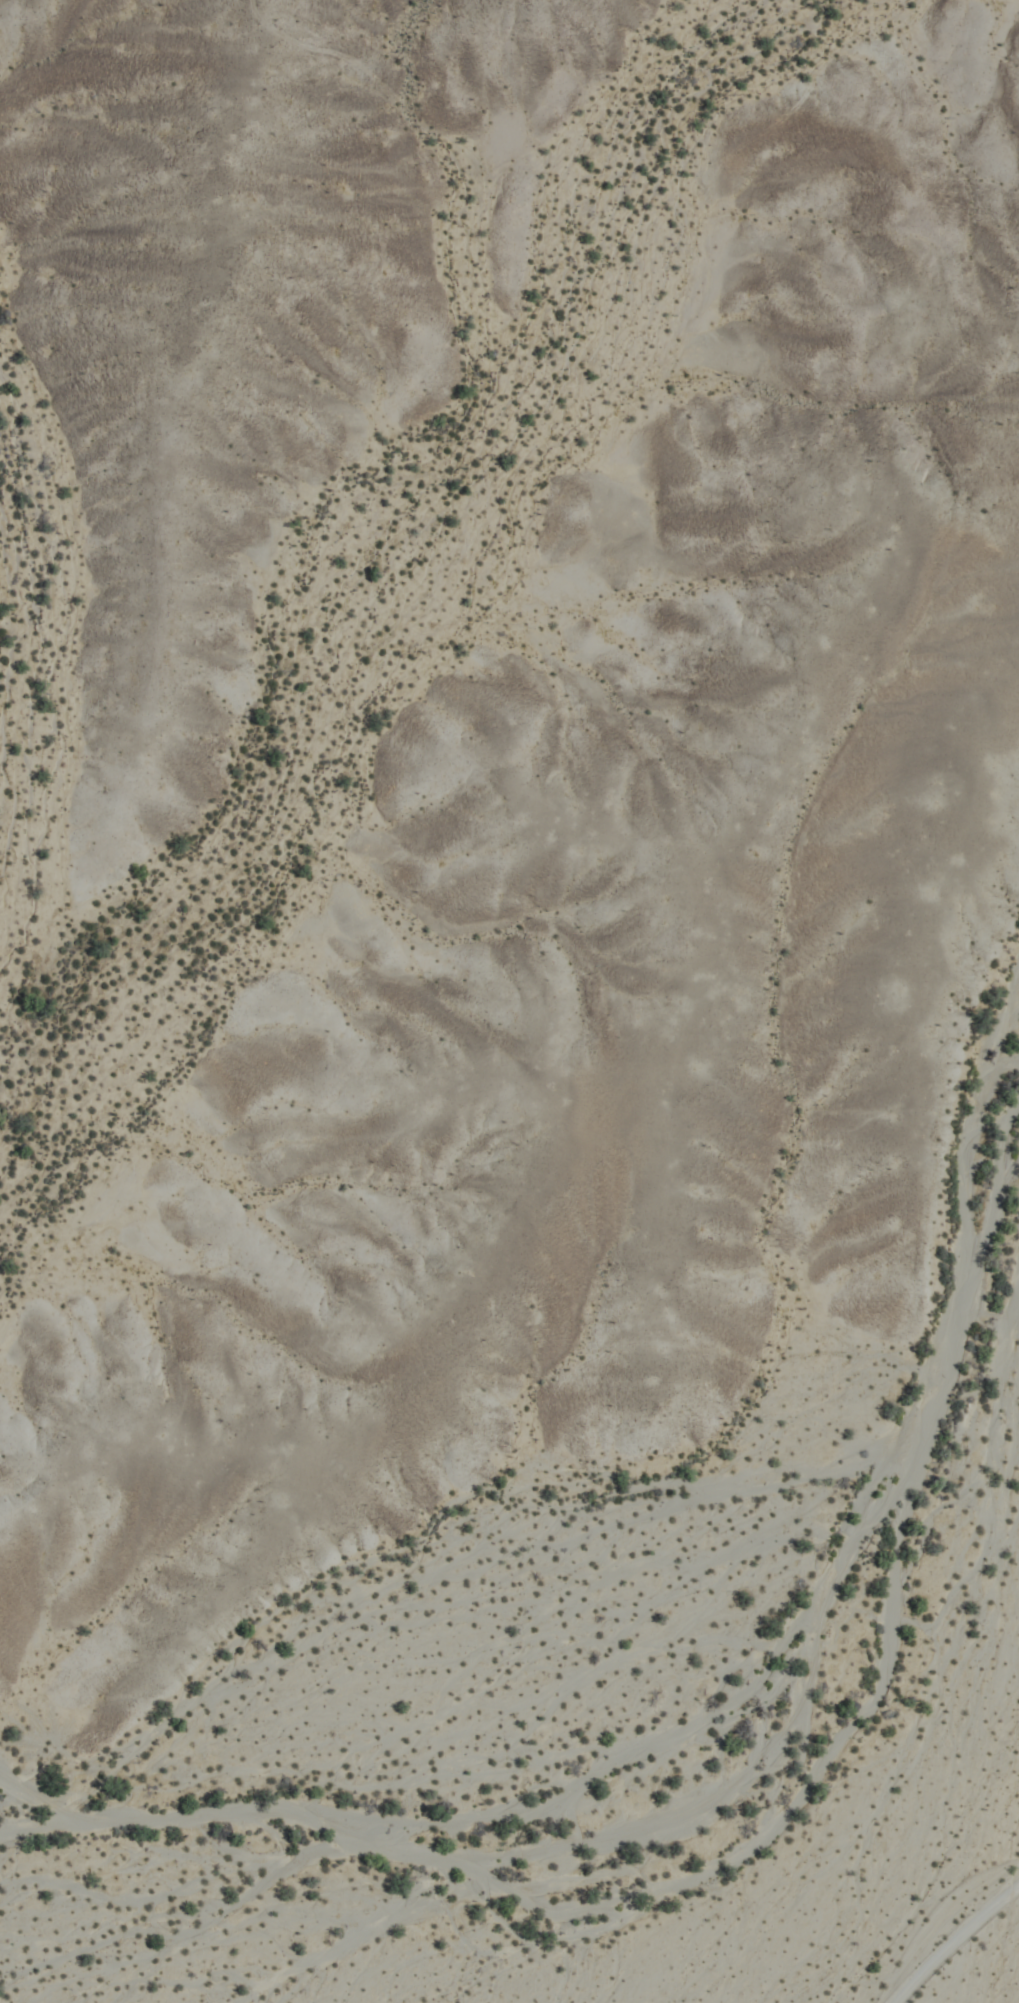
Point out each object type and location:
road: (945, 1913)

